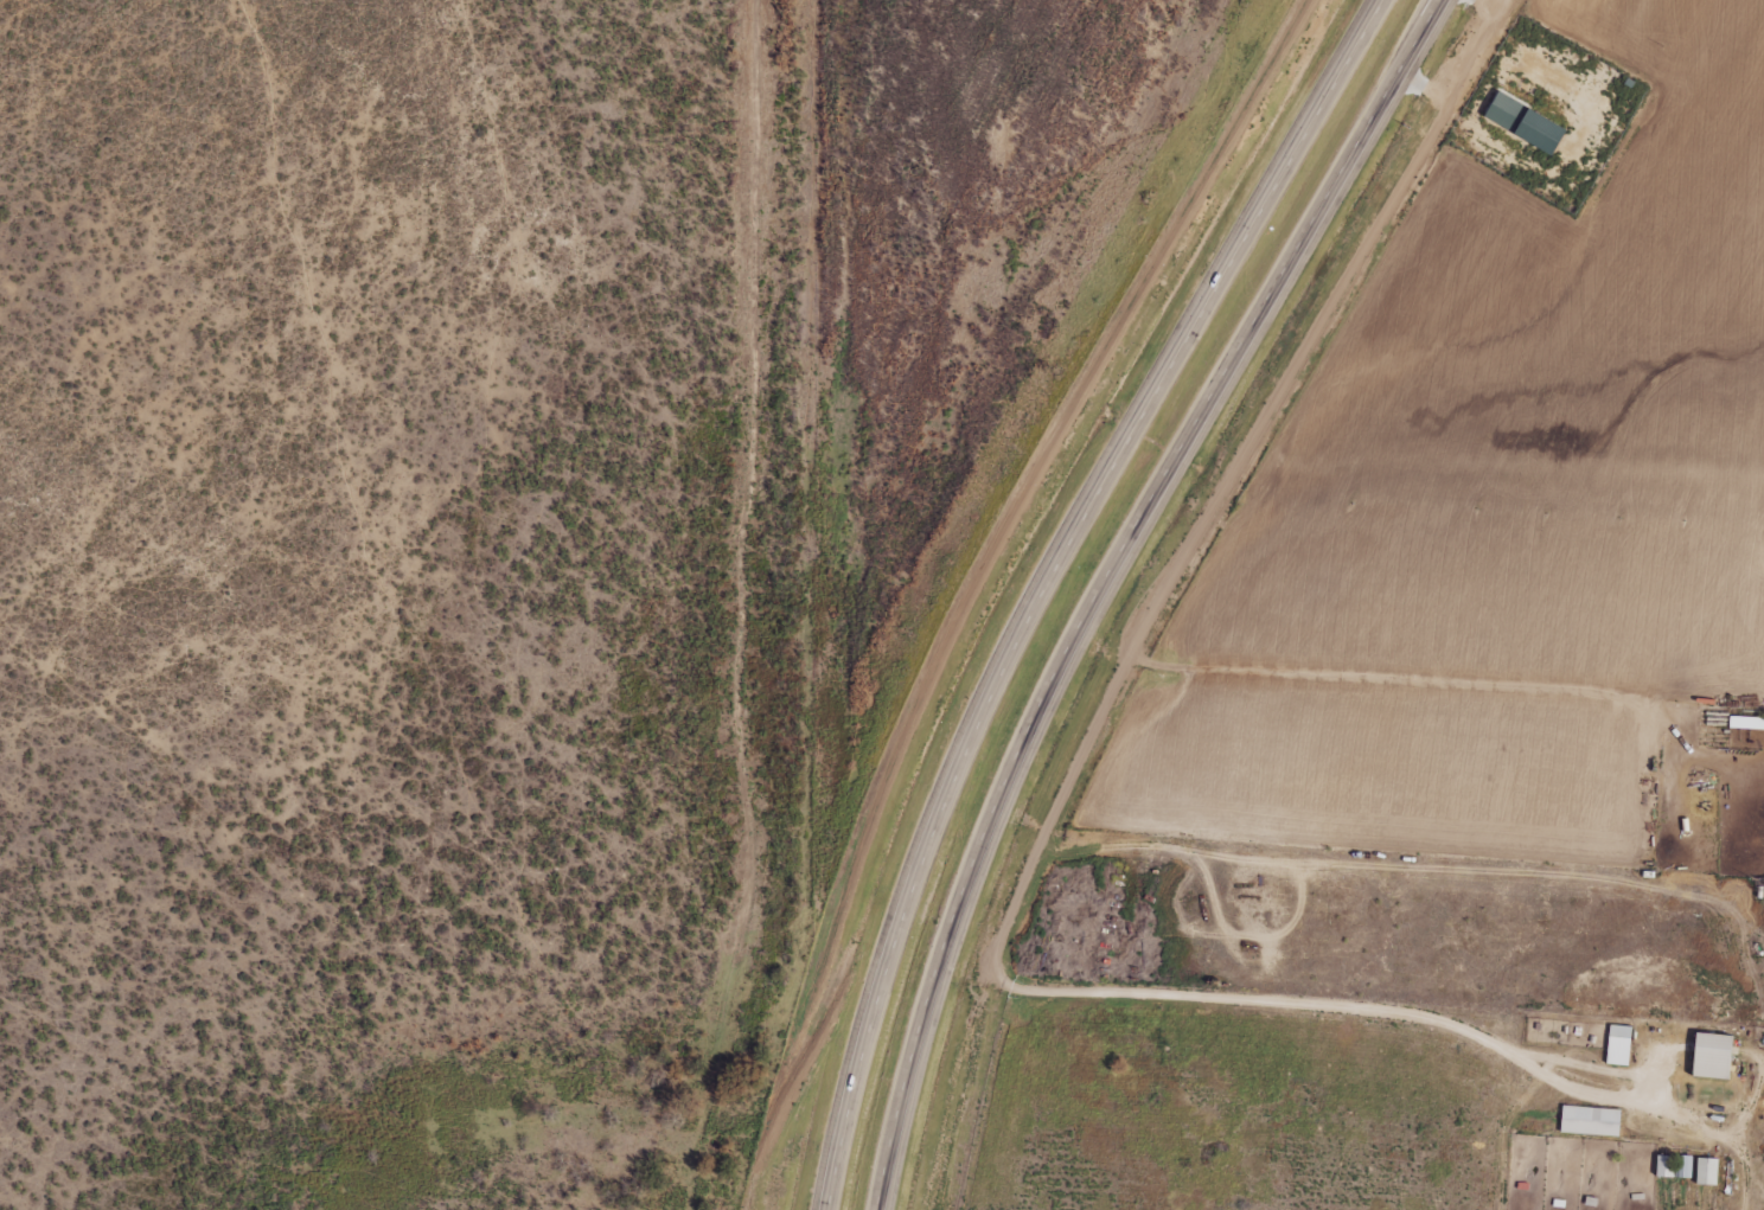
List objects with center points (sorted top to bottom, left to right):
road: (1359, 430)
road: (1059, 582)
road: (1119, 583)
road: (722, 608)
building: (1619, 1044)
building: (1715, 1055)
building: (1592, 1120)
building: (1675, 1166)
building: (1708, 1171)

